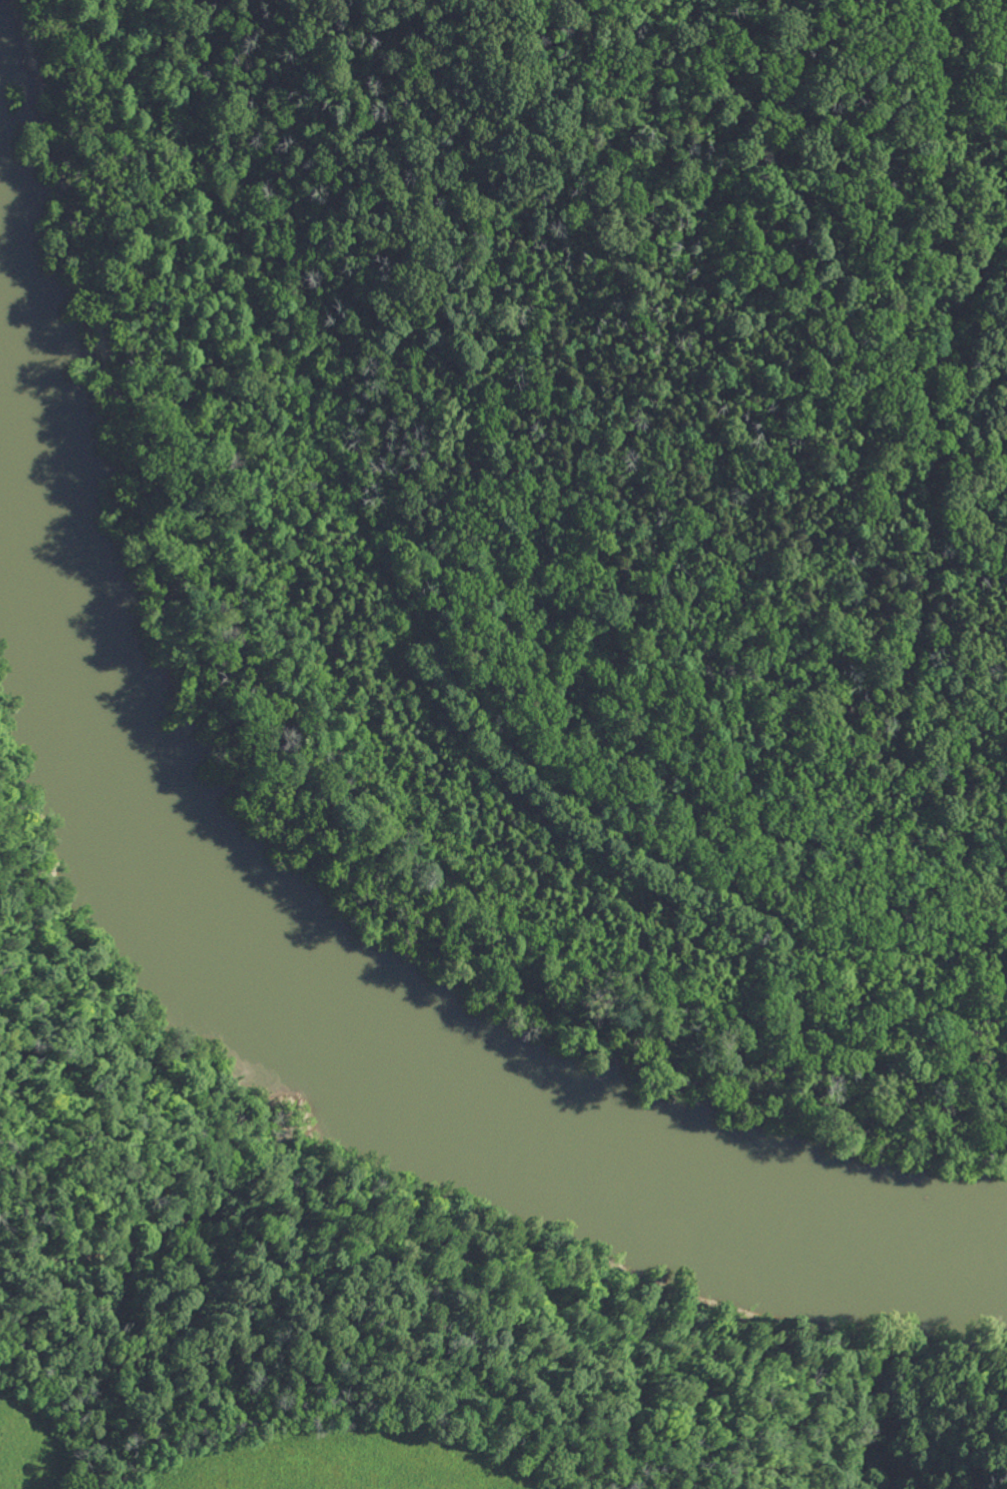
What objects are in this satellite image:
river: (325, 971)

